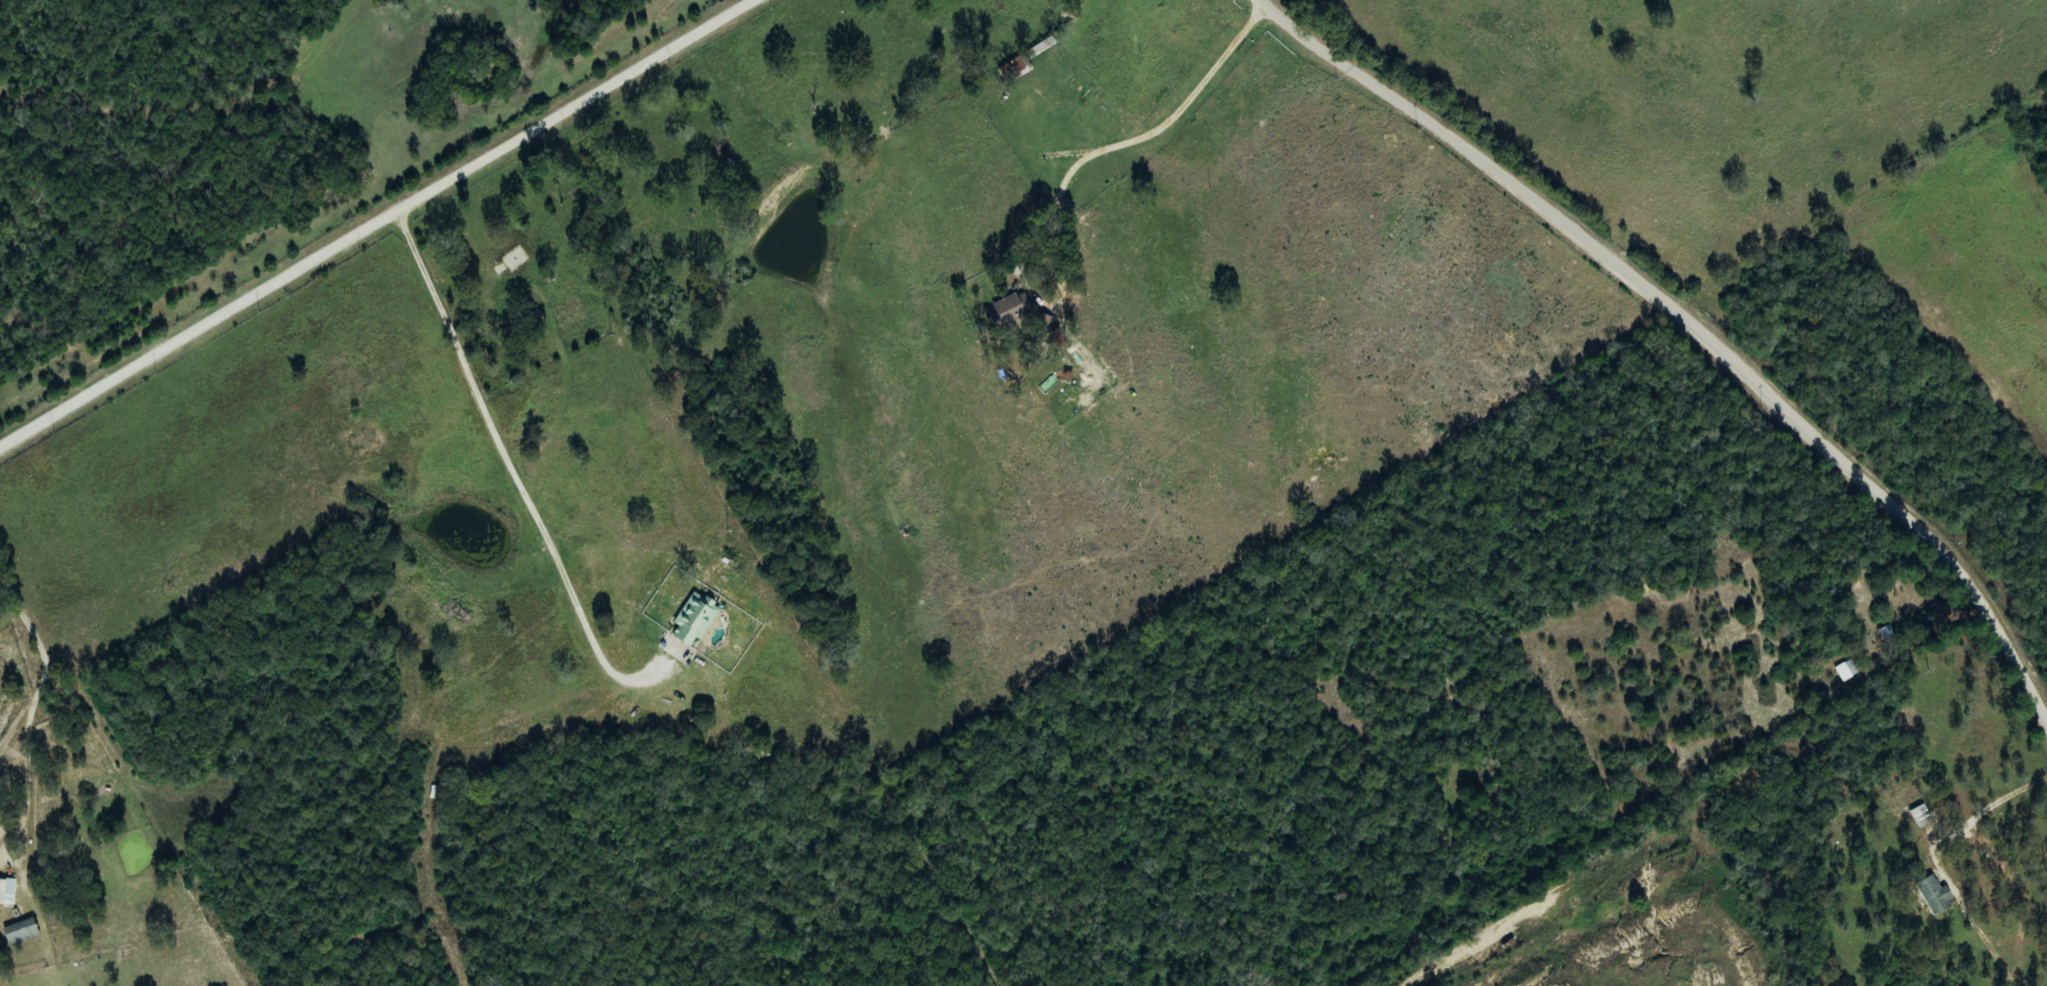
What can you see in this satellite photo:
road: (1420, 34)
building: (1015, 68)
road: (1487, 159)
road: (380, 224)
building: (1009, 308)
building: (1040, 323)
road: (1896, 505)
building: (692, 619)
building: (1846, 670)
building: (9, 891)
building: (1931, 895)
building: (24, 931)

